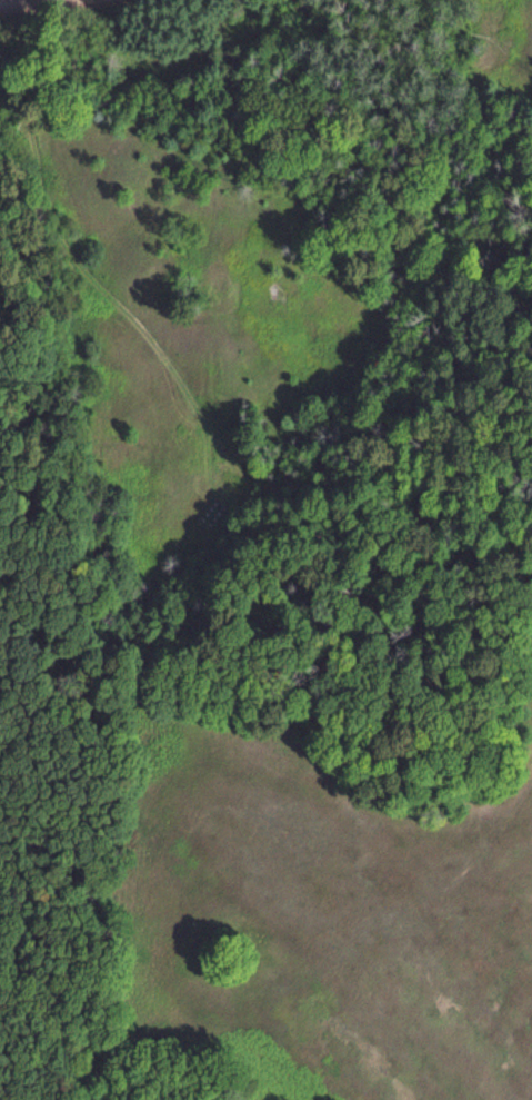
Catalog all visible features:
road: (91, 279)

